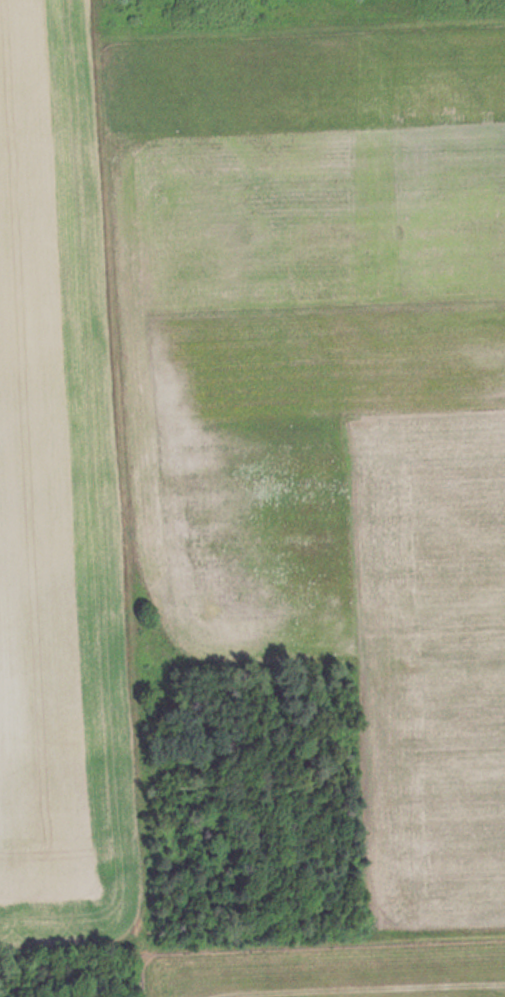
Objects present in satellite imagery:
crop: (335, 385)
crop: (56, 493)

